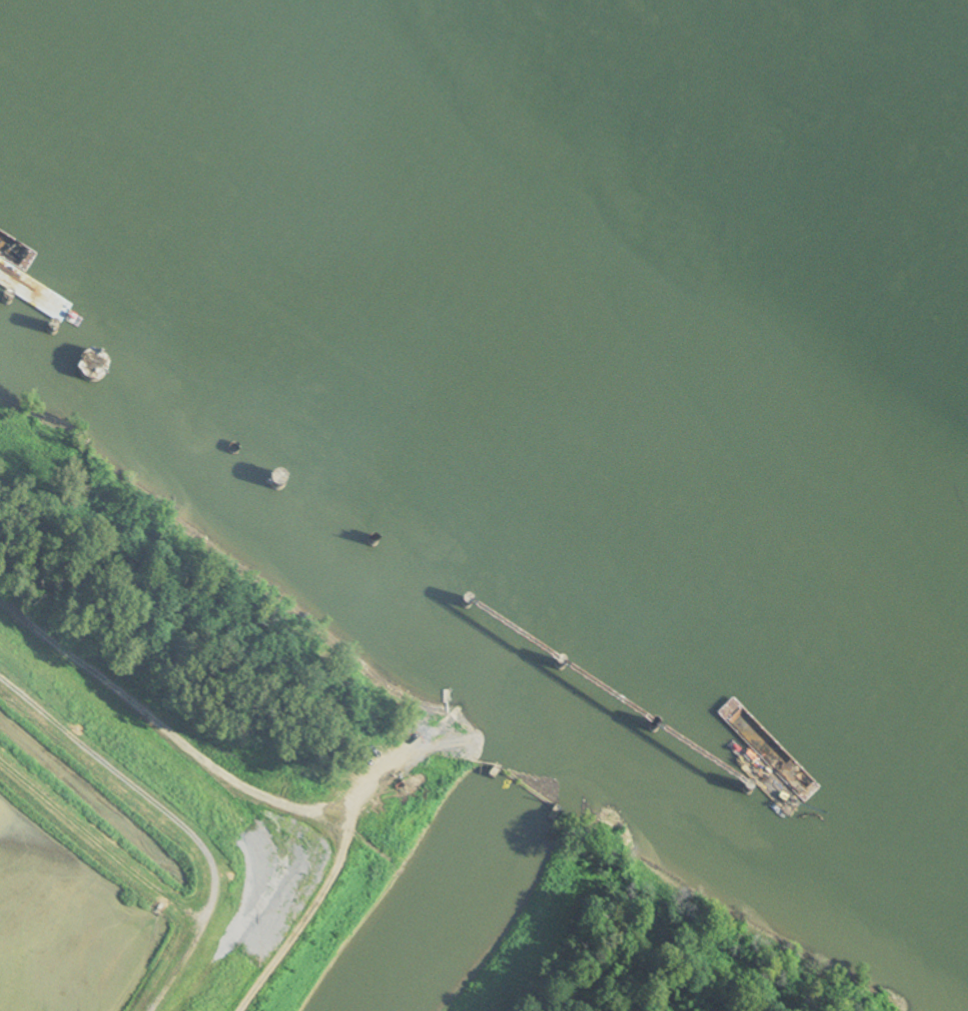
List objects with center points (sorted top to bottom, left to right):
building: (98, 371)

